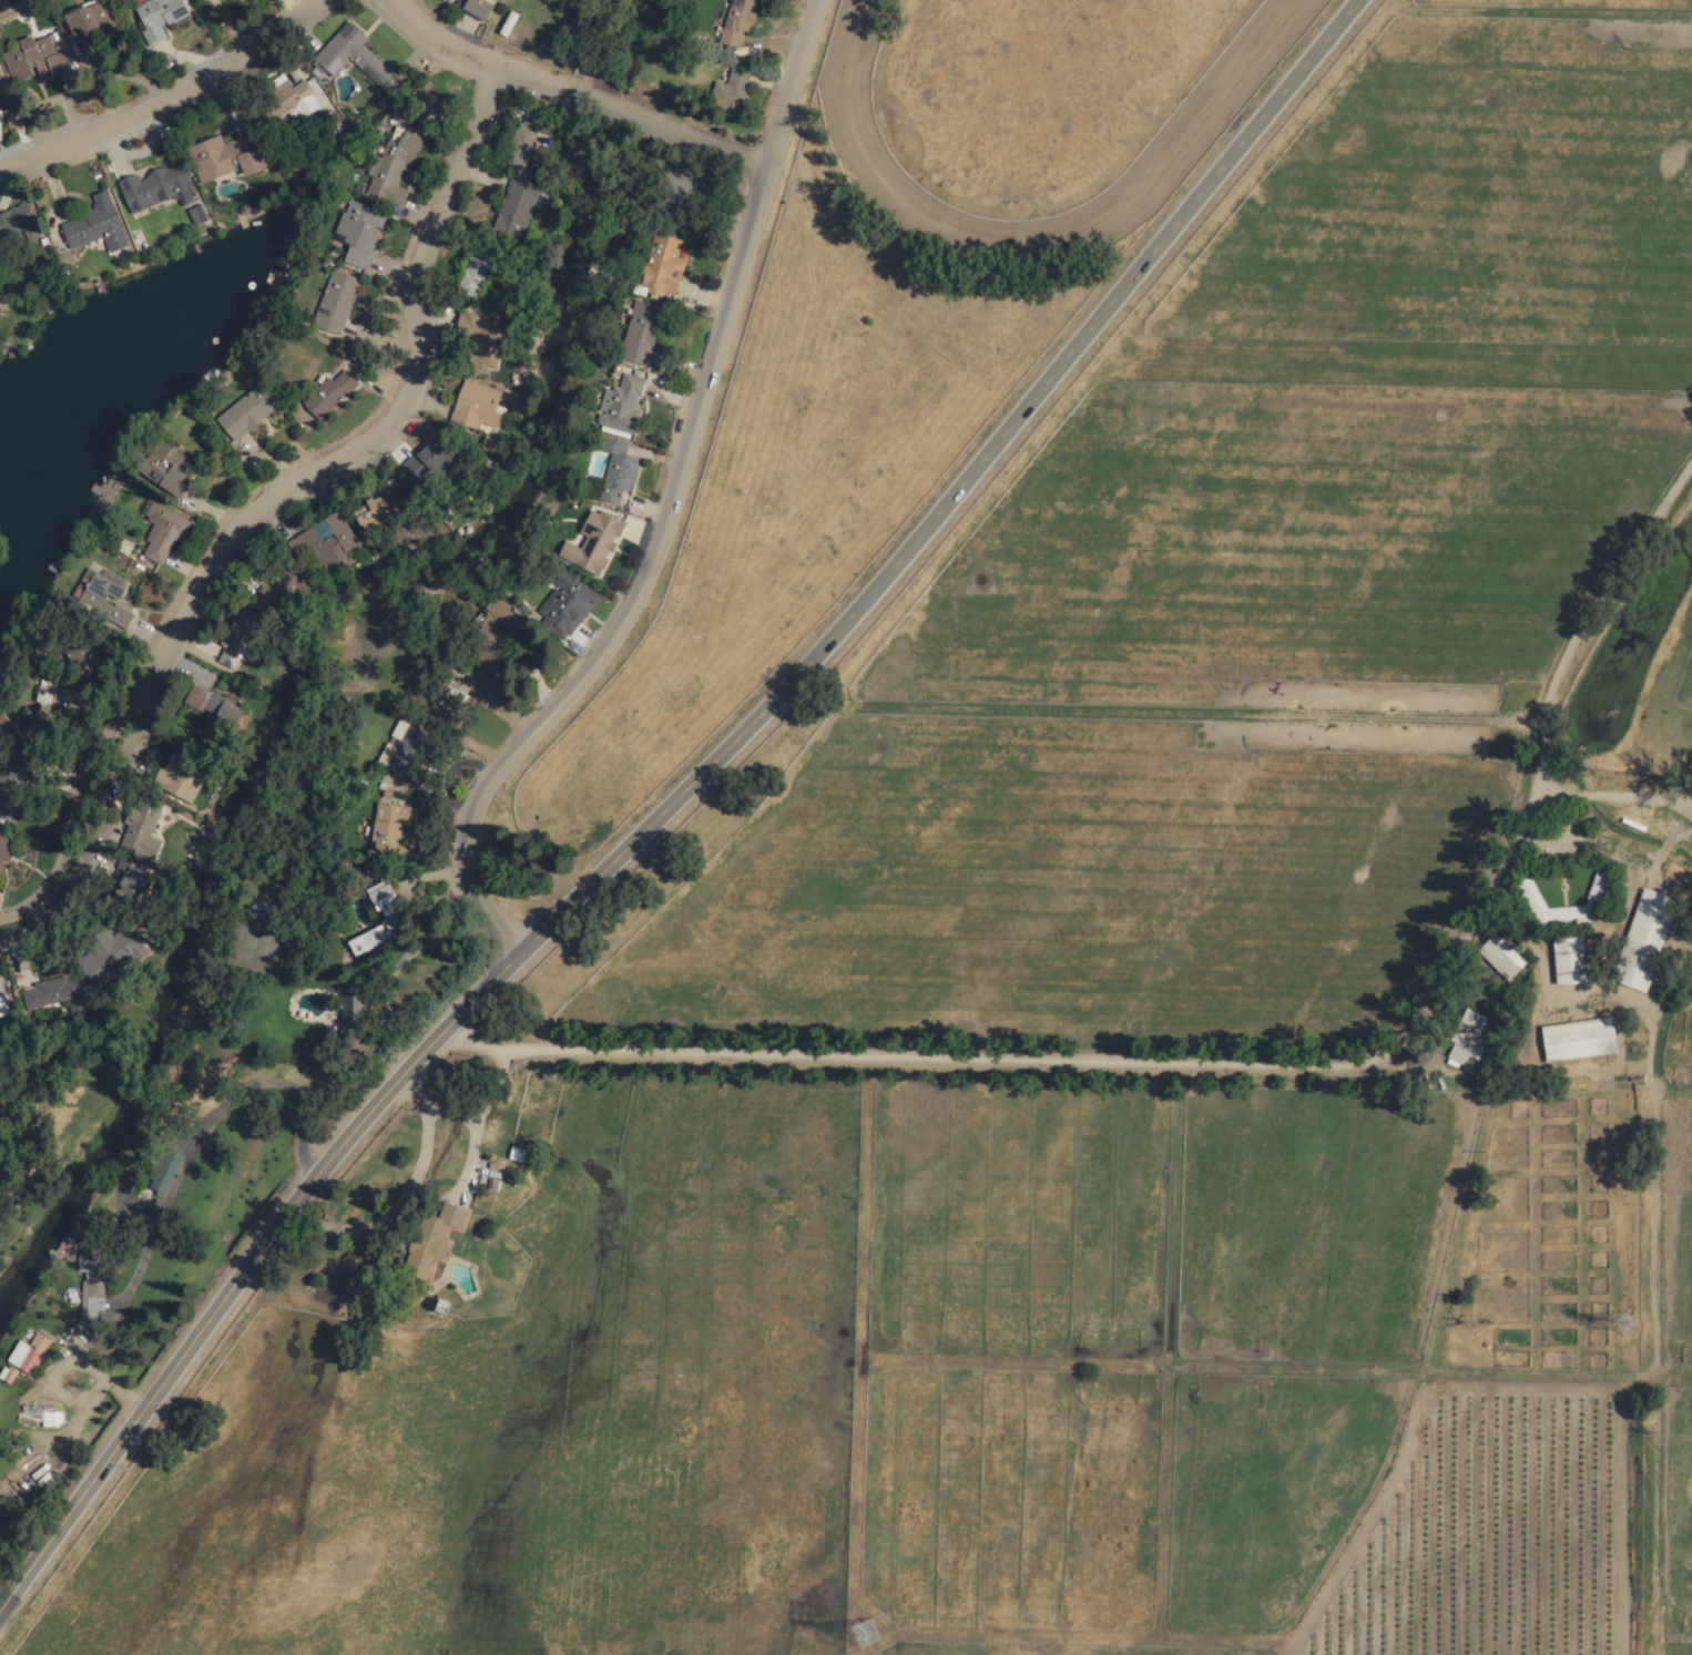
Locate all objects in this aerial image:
building: (441, 1)
building: (475, 9)
building: (154, 19)
building: (736, 21)
building: (85, 24)
building: (349, 55)
building: (33, 60)
building: (2, 83)
building: (732, 89)
building: (278, 101)
road: (572, 101)
road: (171, 103)
building: (522, 139)
building: (223, 157)
building: (393, 166)
building: (154, 187)
building: (674, 191)
building: (514, 207)
building: (13, 219)
building: (93, 225)
building: (357, 232)
building: (477, 267)
building: (663, 267)
building: (3, 297)
building: (333, 302)
crop: (897, 321)
building: (640, 333)
building: (485, 340)
building: (328, 394)
building: (475, 405)
building: (246, 411)
building: (422, 459)
building: (164, 468)
building: (615, 471)
road: (666, 504)
road: (285, 522)
building: (161, 532)
building: (324, 541)
building: (594, 541)
crop: (1272, 581)
building: (106, 596)
building: (565, 601)
building: (235, 638)
building: (74, 677)
building: (456, 688)
building: (44, 692)
building: (402, 749)
building: (179, 777)
building: (12, 785)
road: (667, 798)
building: (141, 828)
building: (388, 828)
building: (1, 855)
building: (1594, 895)
building: (385, 906)
building: (1643, 941)
building: (1499, 957)
building: (1568, 961)
building: (94, 972)
building: (59, 994)
building: (1, 1003)
building: (344, 1014)
building: (1465, 1040)
building: (1577, 1040)
crop: (1236, 1048)
road: (1515, 1052)
road: (931, 1056)
road: (206, 1131)
building: (514, 1154)
building: (163, 1172)
road: (400, 1199)
building: (432, 1242)
building: (90, 1277)
power tower: (1620, 1325)
crop: (919, 1345)
building: (27, 1353)
building: (6, 1373)
road: (94, 1376)
building: (37, 1414)
crop: (415, 1509)
crop: (247, 1571)
power tower: (867, 1637)

